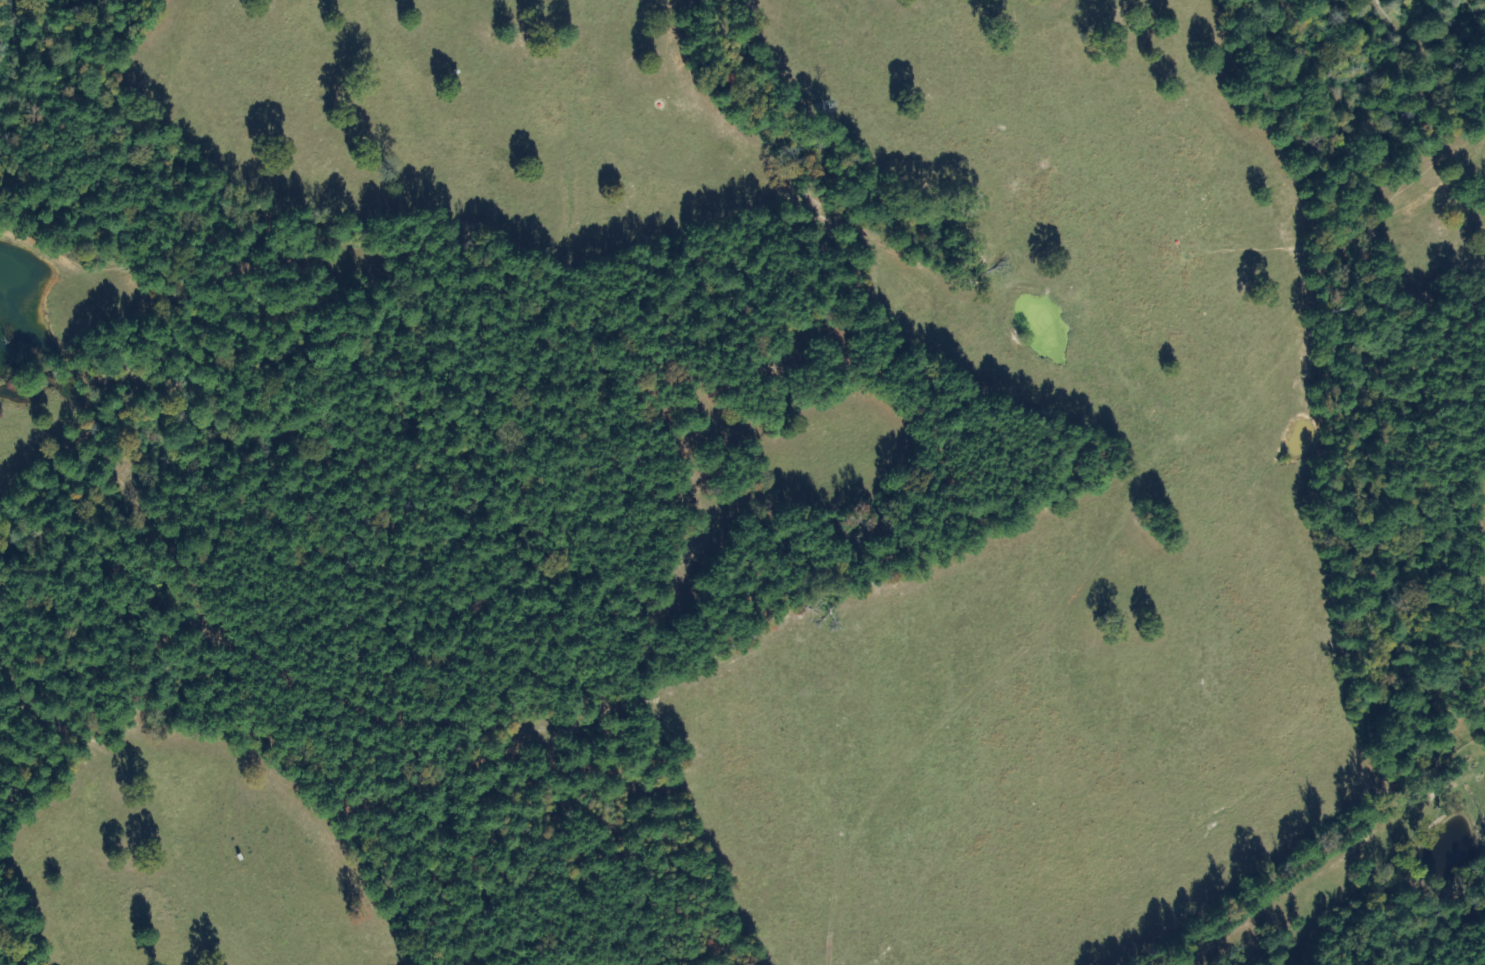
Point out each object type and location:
road: (1353, 879)

